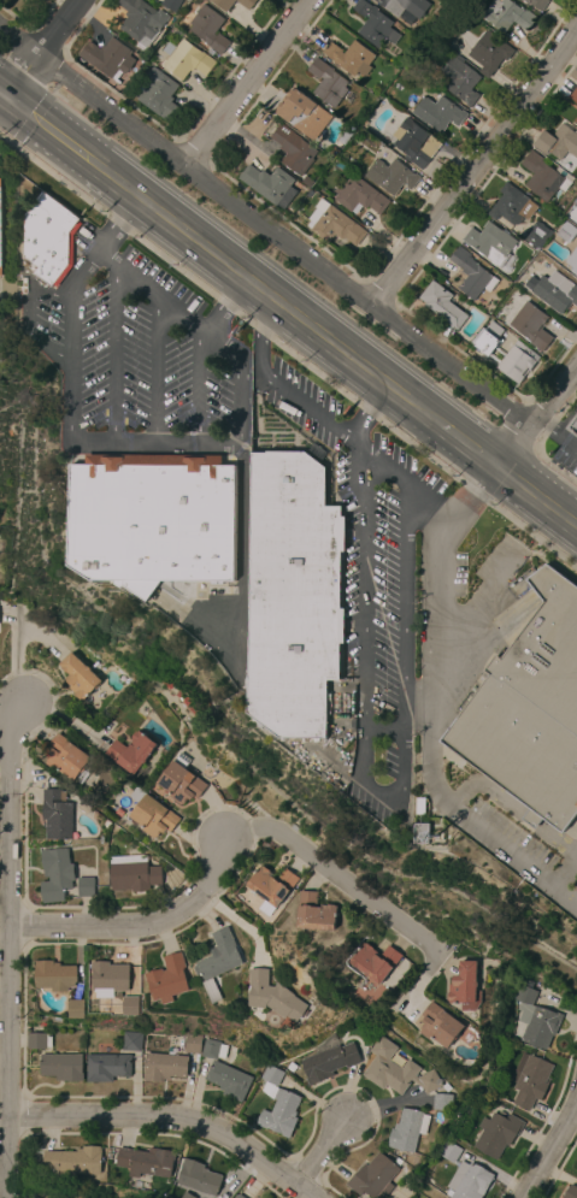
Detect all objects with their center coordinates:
building: (207, 0)
building: (223, 4)
building: (246, 4)
building: (537, 4)
building: (171, 5)
building: (404, 6)
building: (507, 16)
building: (407, 18)
building: (141, 20)
building: (375, 24)
road: (55, 28)
building: (208, 29)
road: (17, 43)
building: (490, 55)
building: (108, 58)
building: (349, 58)
building: (186, 59)
road: (19, 76)
building: (460, 79)
road: (243, 82)
building: (326, 83)
road: (193, 92)
road: (1, 94)
building: (159, 95)
building: (573, 95)
traffic signals: (4, 96)
building: (301, 113)
building: (436, 113)
road: (29, 118)
building: (575, 120)
building: (345, 135)
building: (558, 142)
building: (414, 143)
building: (294, 151)
road: (472, 166)
building: (390, 176)
building: (542, 177)
building: (270, 184)
building: (359, 196)
building: (508, 205)
road: (116, 223)
building: (332, 224)
building: (566, 231)
building: (535, 234)
building: (49, 240)
road: (282, 240)
building: (0, 243)
building: (491, 244)
road: (219, 259)
building: (572, 260)
building: (471, 275)
road: (152, 289)
building: (554, 291)
road: (225, 303)
building: (441, 305)
road: (28, 312)
building: (529, 325)
road: (263, 332)
building: (519, 352)
road: (114, 353)
parking lot: (139, 354)
road: (155, 368)
road: (196, 385)
road: (302, 405)
road: (366, 411)
road: (537, 414)
road: (566, 417)
building: (572, 425)
road: (550, 427)
road: (123, 442)
road: (571, 442)
road: (467, 444)
parking lot: (560, 458)
road: (375, 460)
road: (536, 496)
road: (426, 501)
road: (465, 503)
building: (152, 519)
road: (576, 523)
parking lot: (499, 561)
road: (500, 565)
parking lot: (457, 573)
parking lot: (367, 574)
building: (293, 594)
road: (465, 616)
road: (14, 662)
building: (78, 677)
building: (530, 710)
road: (382, 728)
road: (429, 740)
building: (131, 751)
building: (67, 760)
building: (181, 781)
road: (379, 791)
road: (512, 805)
building: (57, 814)
building: (152, 814)
building: (422, 833)
parking lot: (511, 833)
road: (565, 868)
building: (133, 873)
building: (55, 874)
road: (332, 874)
parking lot: (565, 880)
building: (84, 887)
building: (271, 887)
road: (565, 892)
building: (314, 913)
road: (139, 926)
road: (7, 946)
building: (219, 961)
building: (375, 962)
building: (54, 975)
building: (110, 978)
building: (167, 979)
building: (464, 987)
building: (275, 996)
building: (130, 1005)
building: (76, 1008)
building: (535, 1017)
building: (438, 1026)
building: (37, 1040)
building: (130, 1040)
building: (192, 1043)
building: (213, 1050)
building: (328, 1060)
building: (60, 1067)
building: (106, 1067)
building: (164, 1067)
building: (290, 1067)
building: (395, 1069)
building: (271, 1075)
building: (228, 1080)
building: (529, 1080)
building: (441, 1103)
building: (278, 1111)
road: (160, 1120)
building: (407, 1129)
building: (496, 1134)
road: (552, 1149)
building: (449, 1151)
road: (319, 1153)
building: (73, 1162)
building: (146, 1162)
building: (373, 1178)
building: (199, 1179)
building: (467, 1181)
road: (305, 1192)
building: (570, 1192)
building: (186, 1196)
building: (239, 1197)

